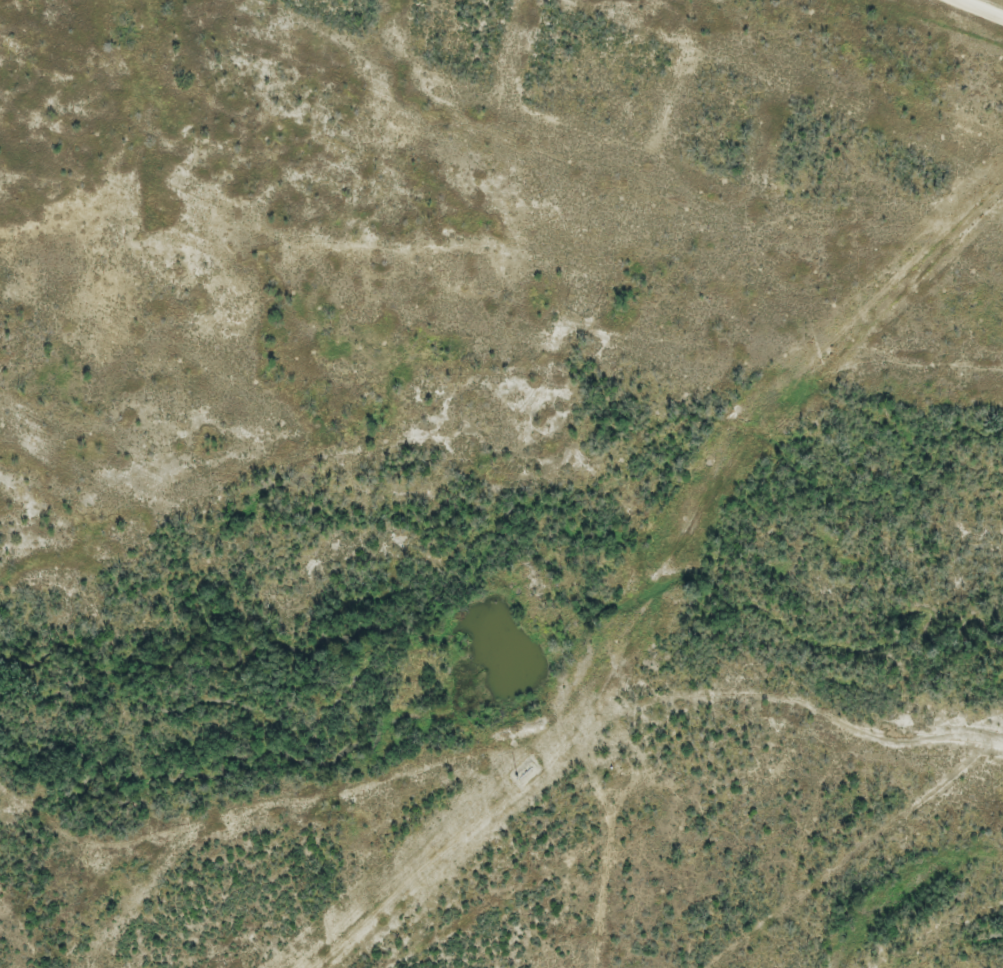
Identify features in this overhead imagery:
road: (978, 10)

